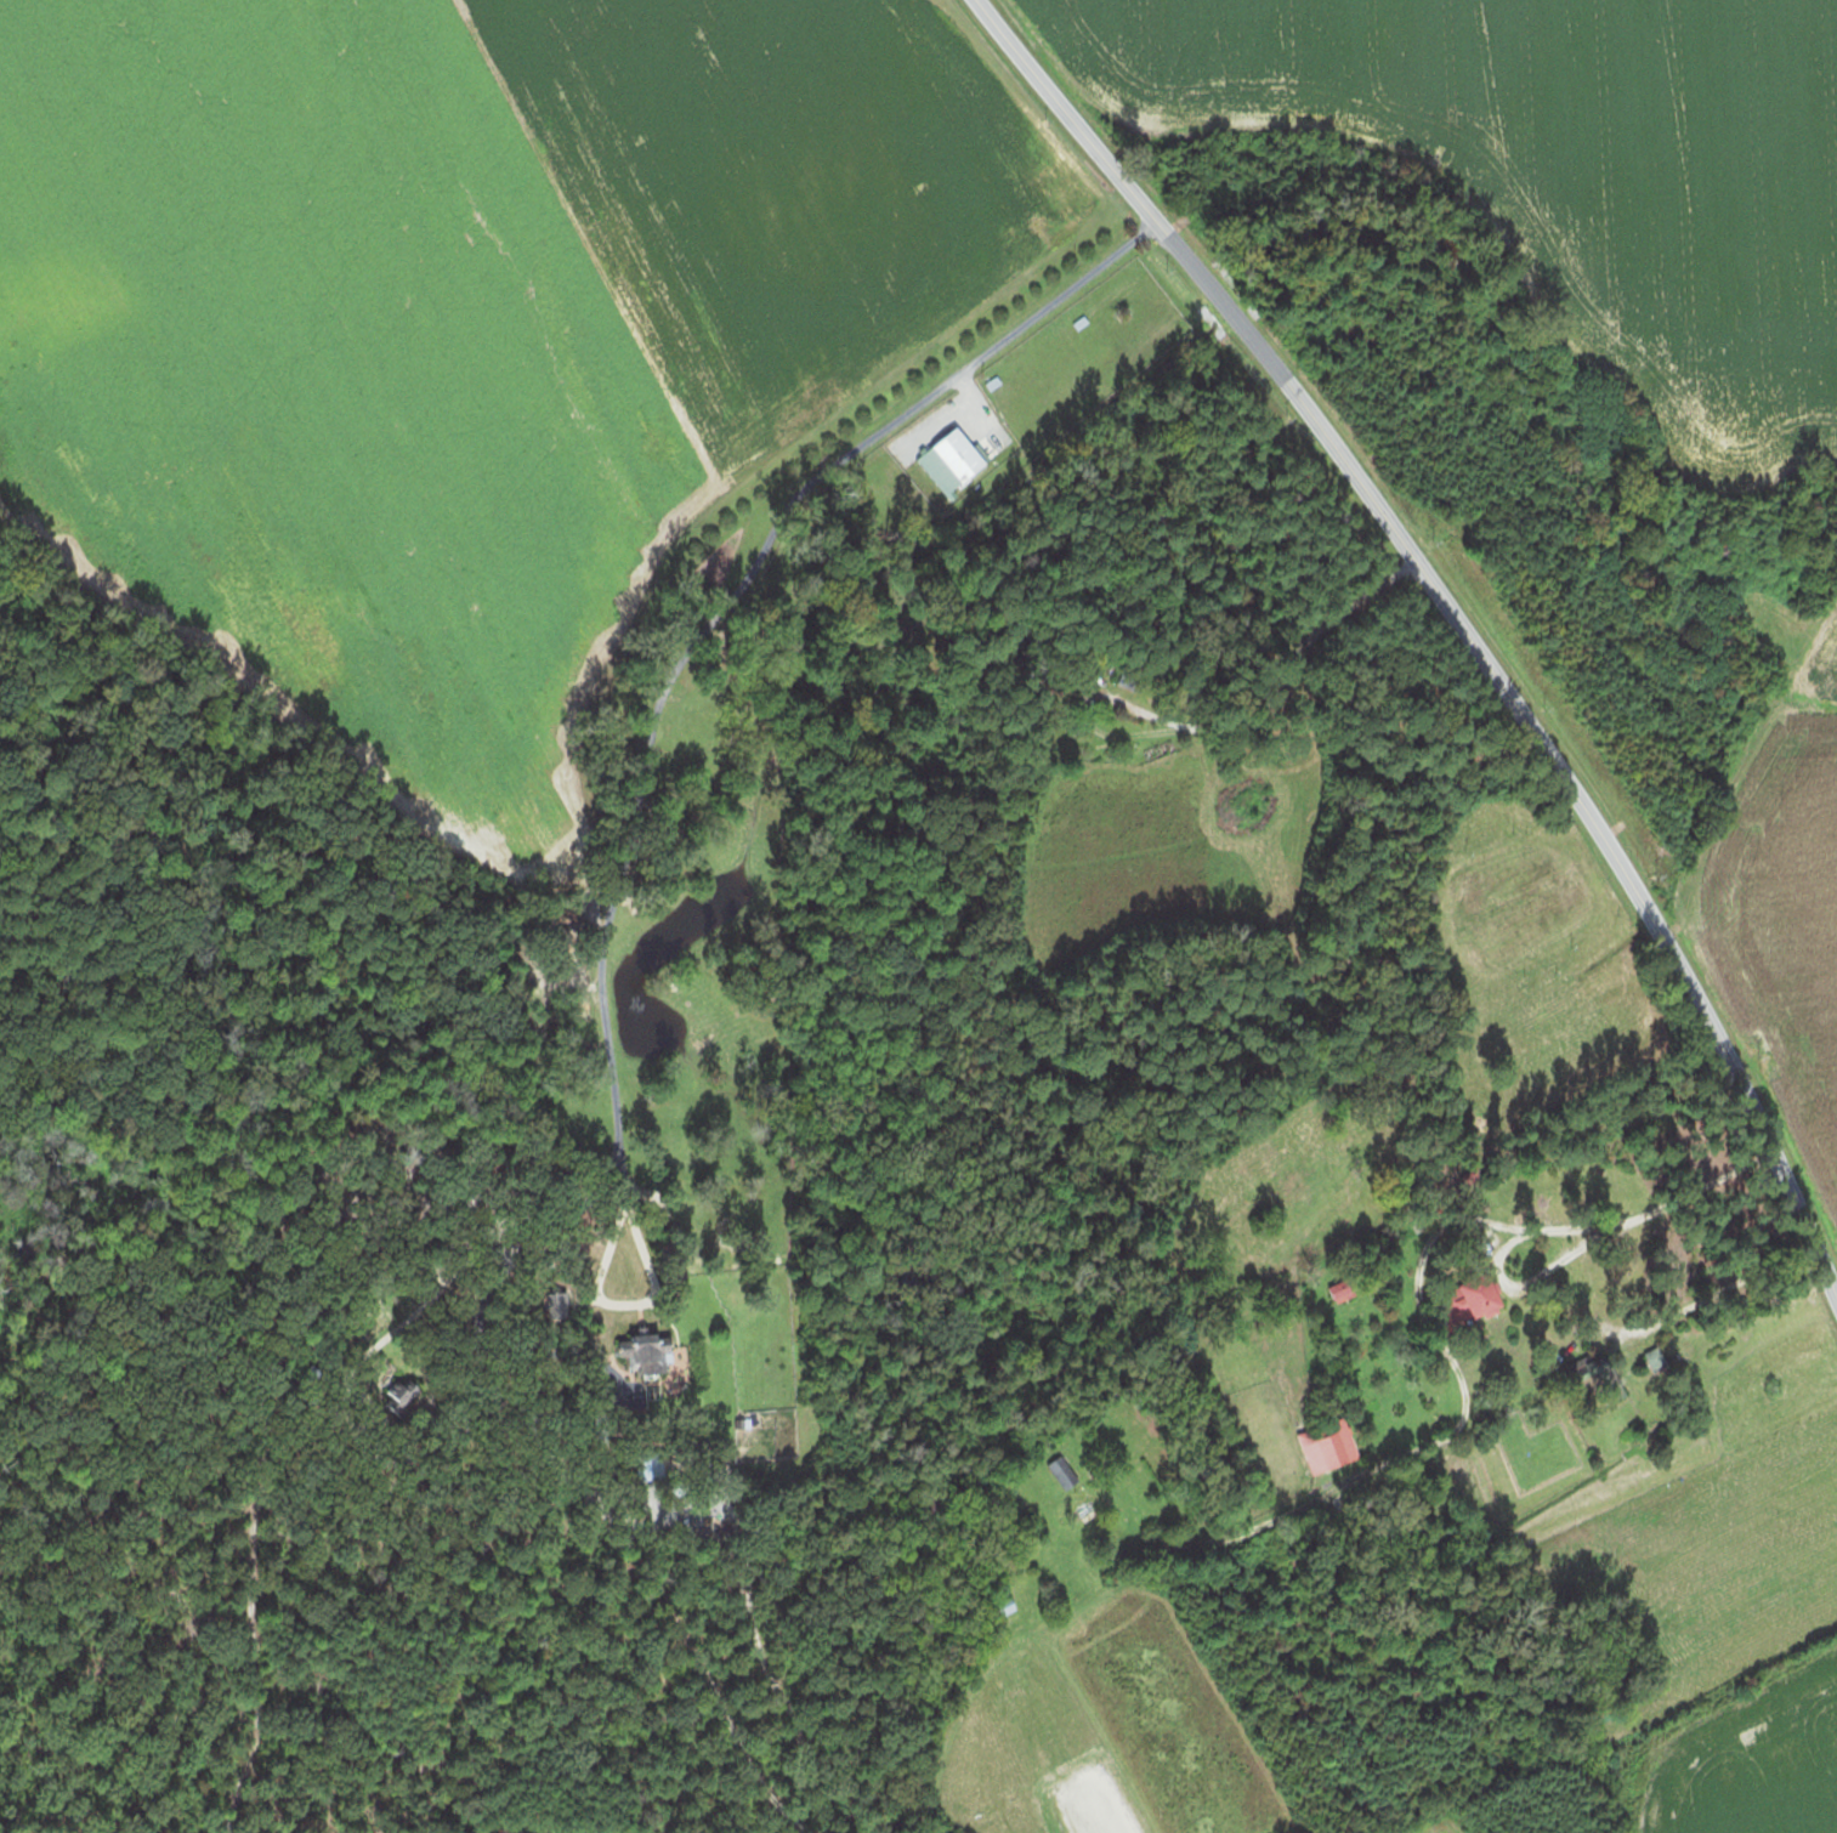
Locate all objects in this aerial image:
building: (946, 453)
road: (1453, 615)
road: (1333, 676)
road: (674, 728)
road: (1731, 744)
building: (1332, 1289)
building: (1458, 1299)
building: (625, 1344)
road: (1462, 1389)
building: (1319, 1443)
building: (1050, 1474)
building: (991, 1608)

